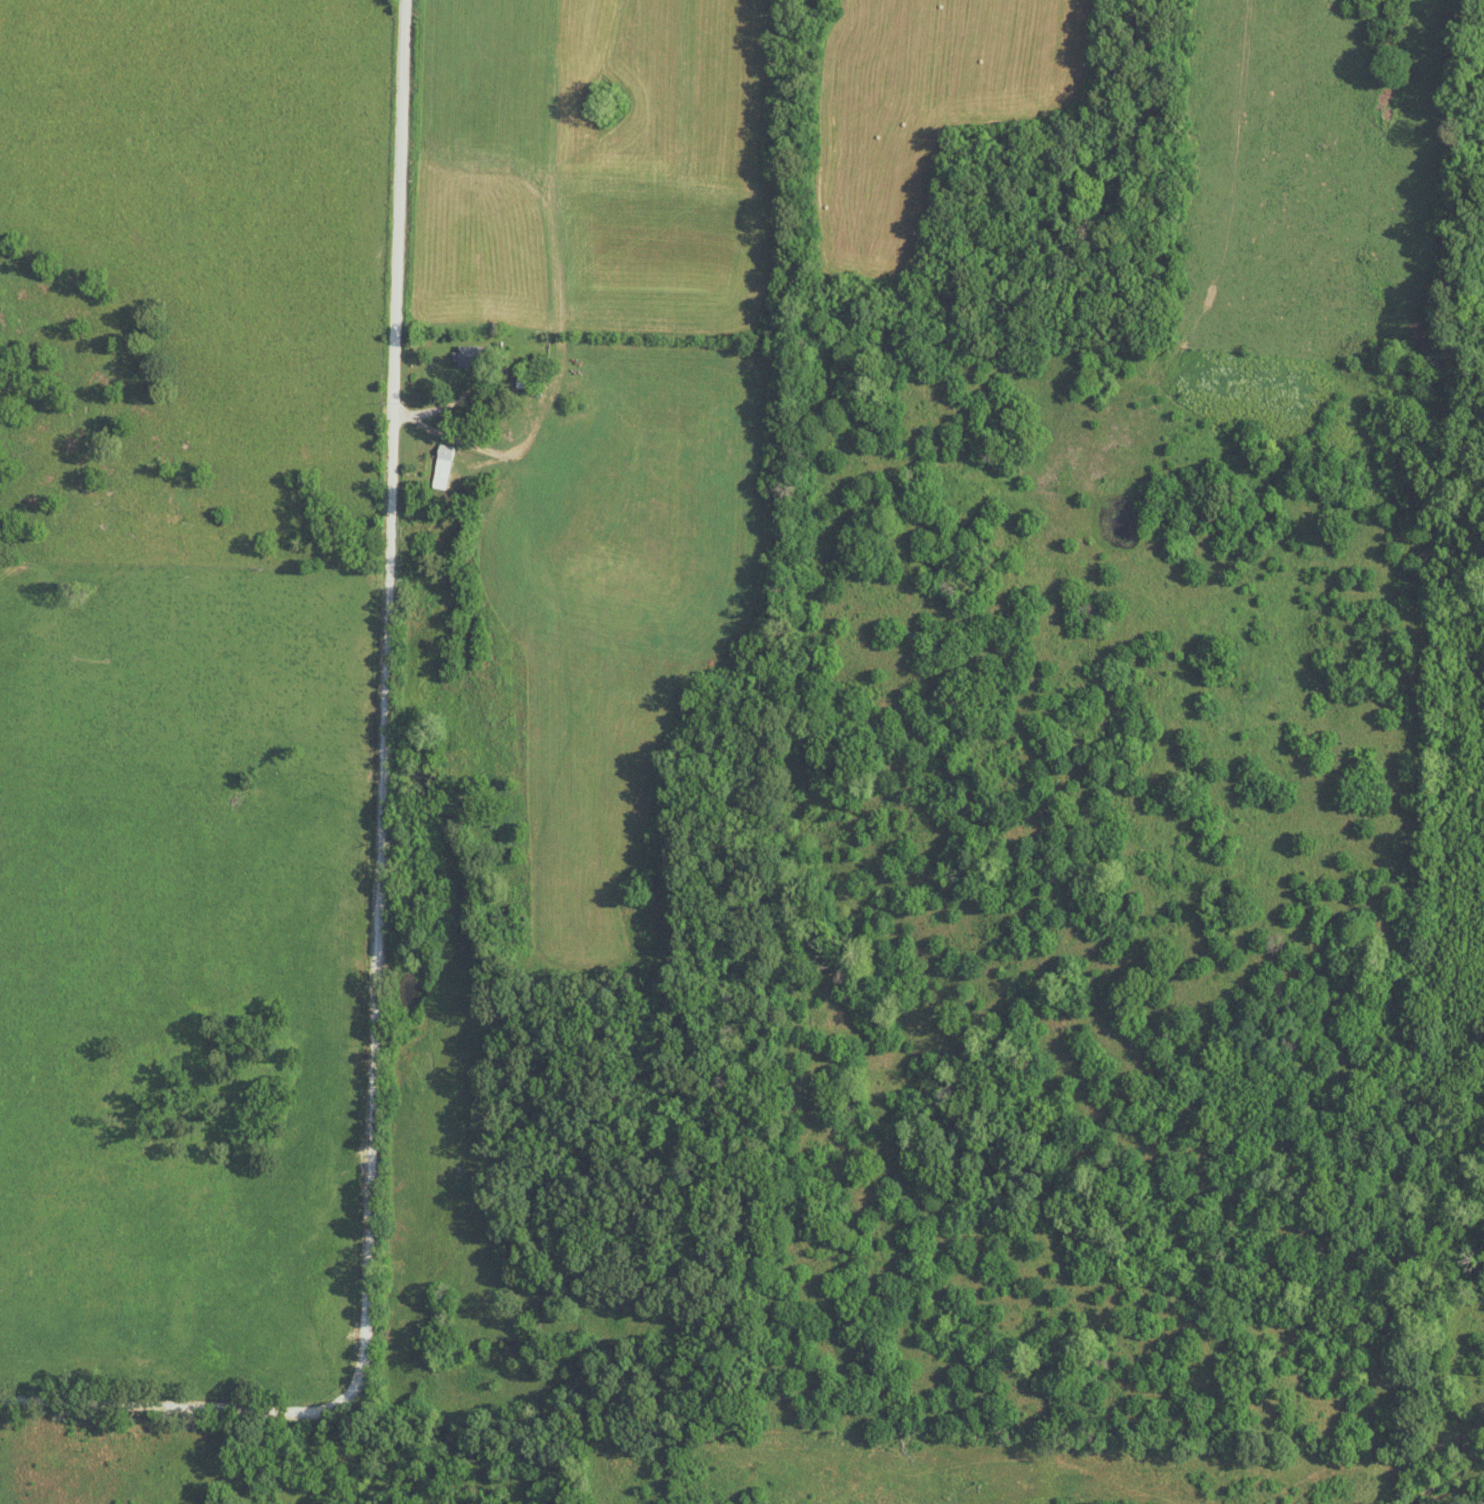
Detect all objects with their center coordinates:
building: (468, 355)
road: (458, 435)
building: (444, 461)
road: (376, 876)

